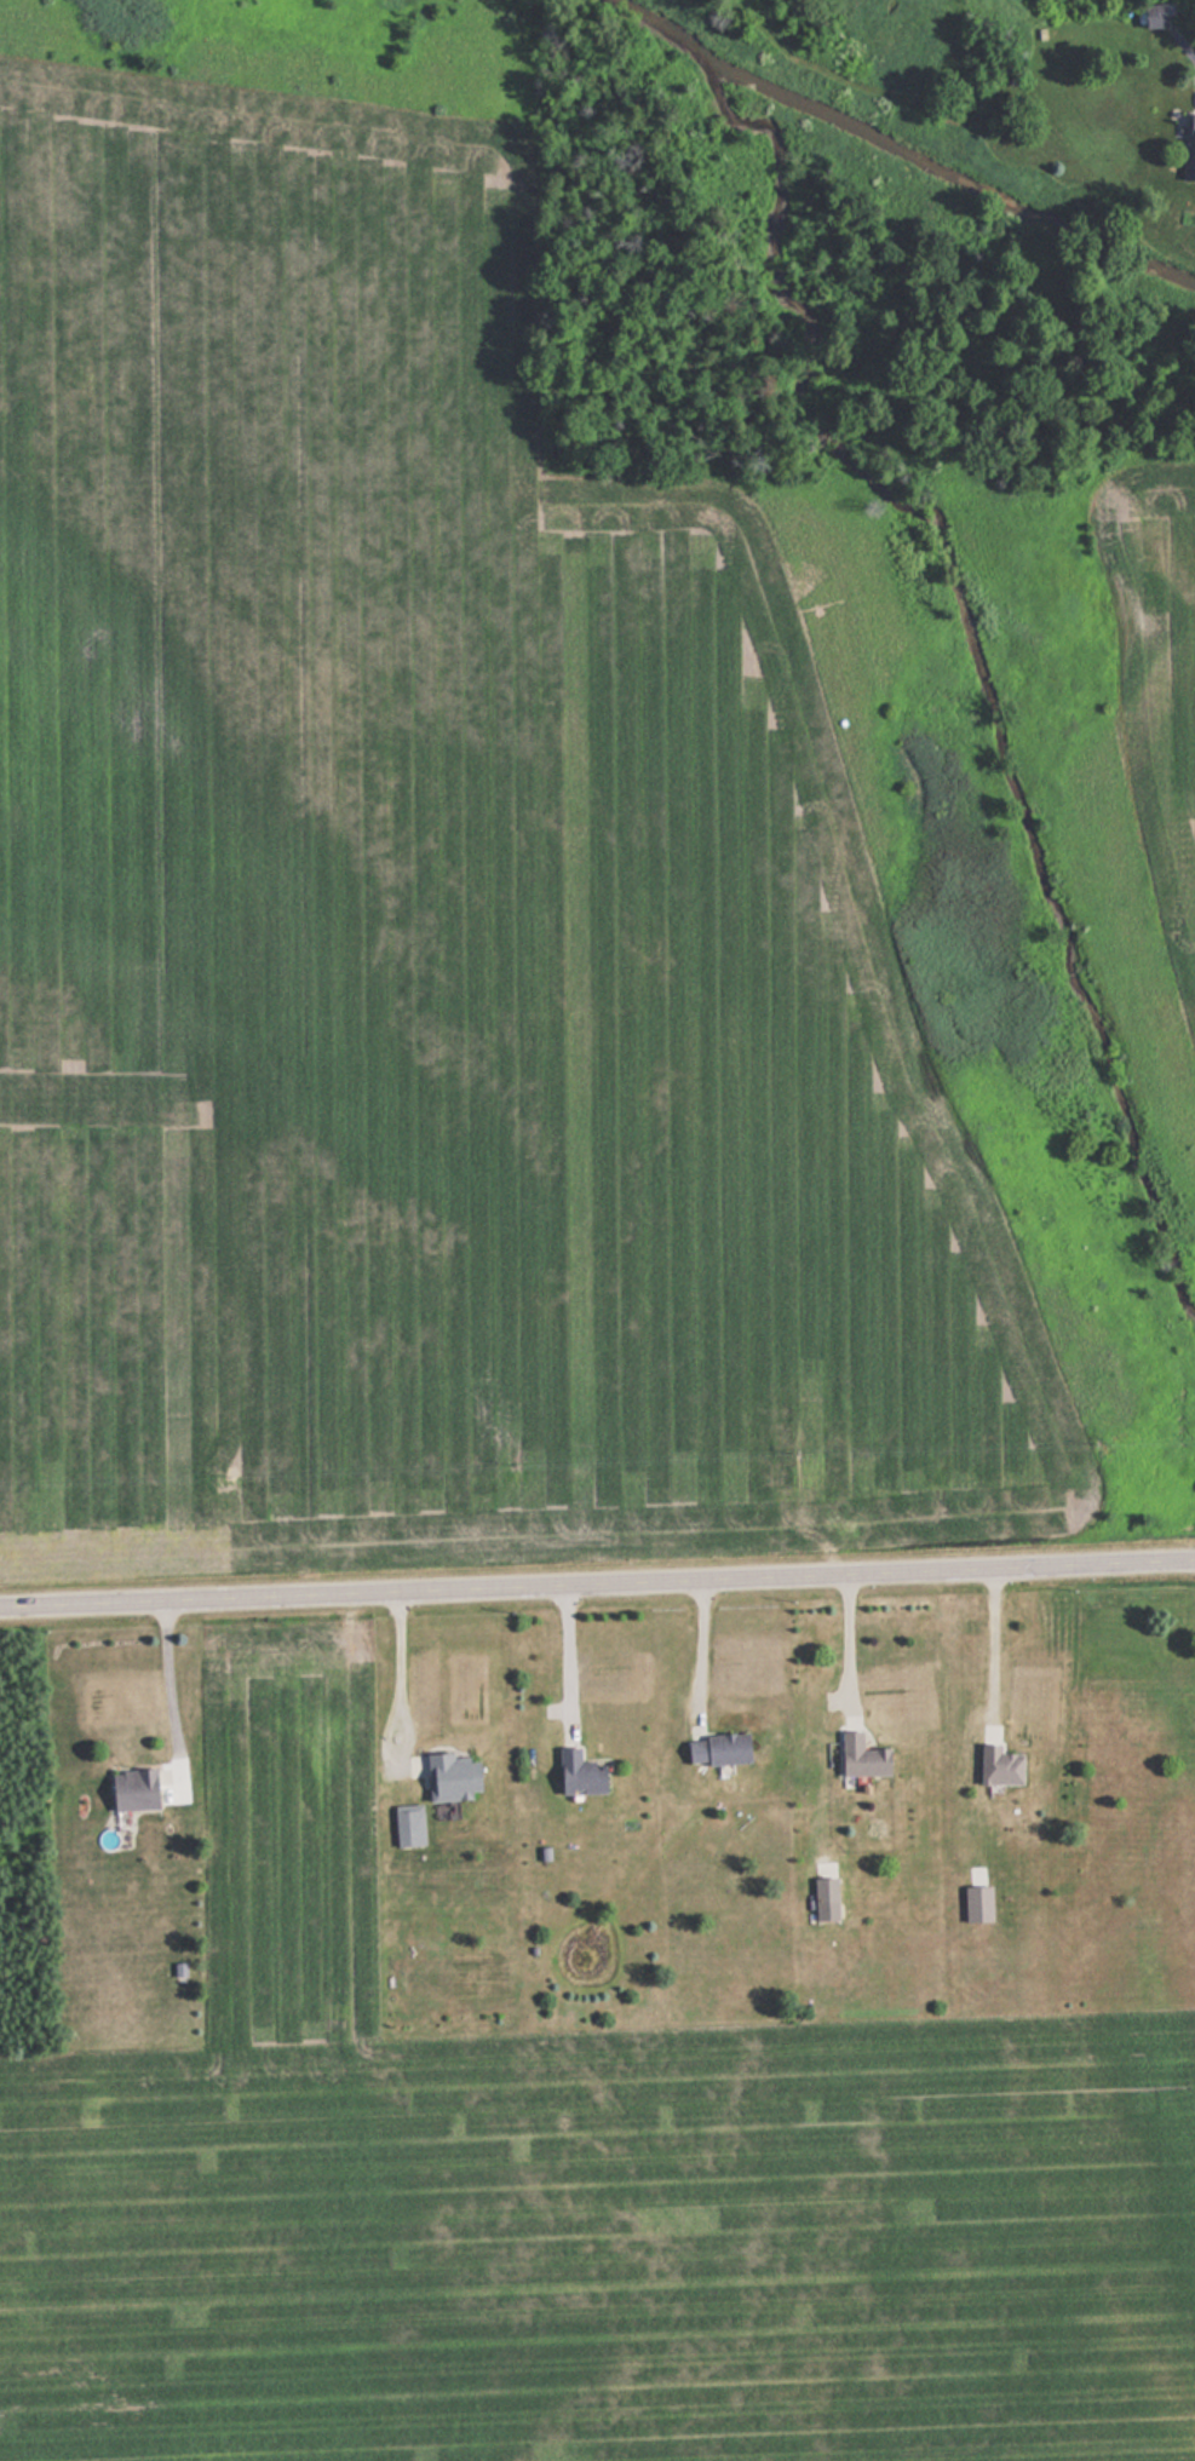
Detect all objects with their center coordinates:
river: (663, 30)
building: (1188, 154)
road: (597, 1572)
building: (717, 1748)
building: (862, 1755)
building: (998, 1765)
building: (579, 1772)
building: (450, 1776)
building: (132, 1788)
building: (825, 1888)
building: (976, 1902)

